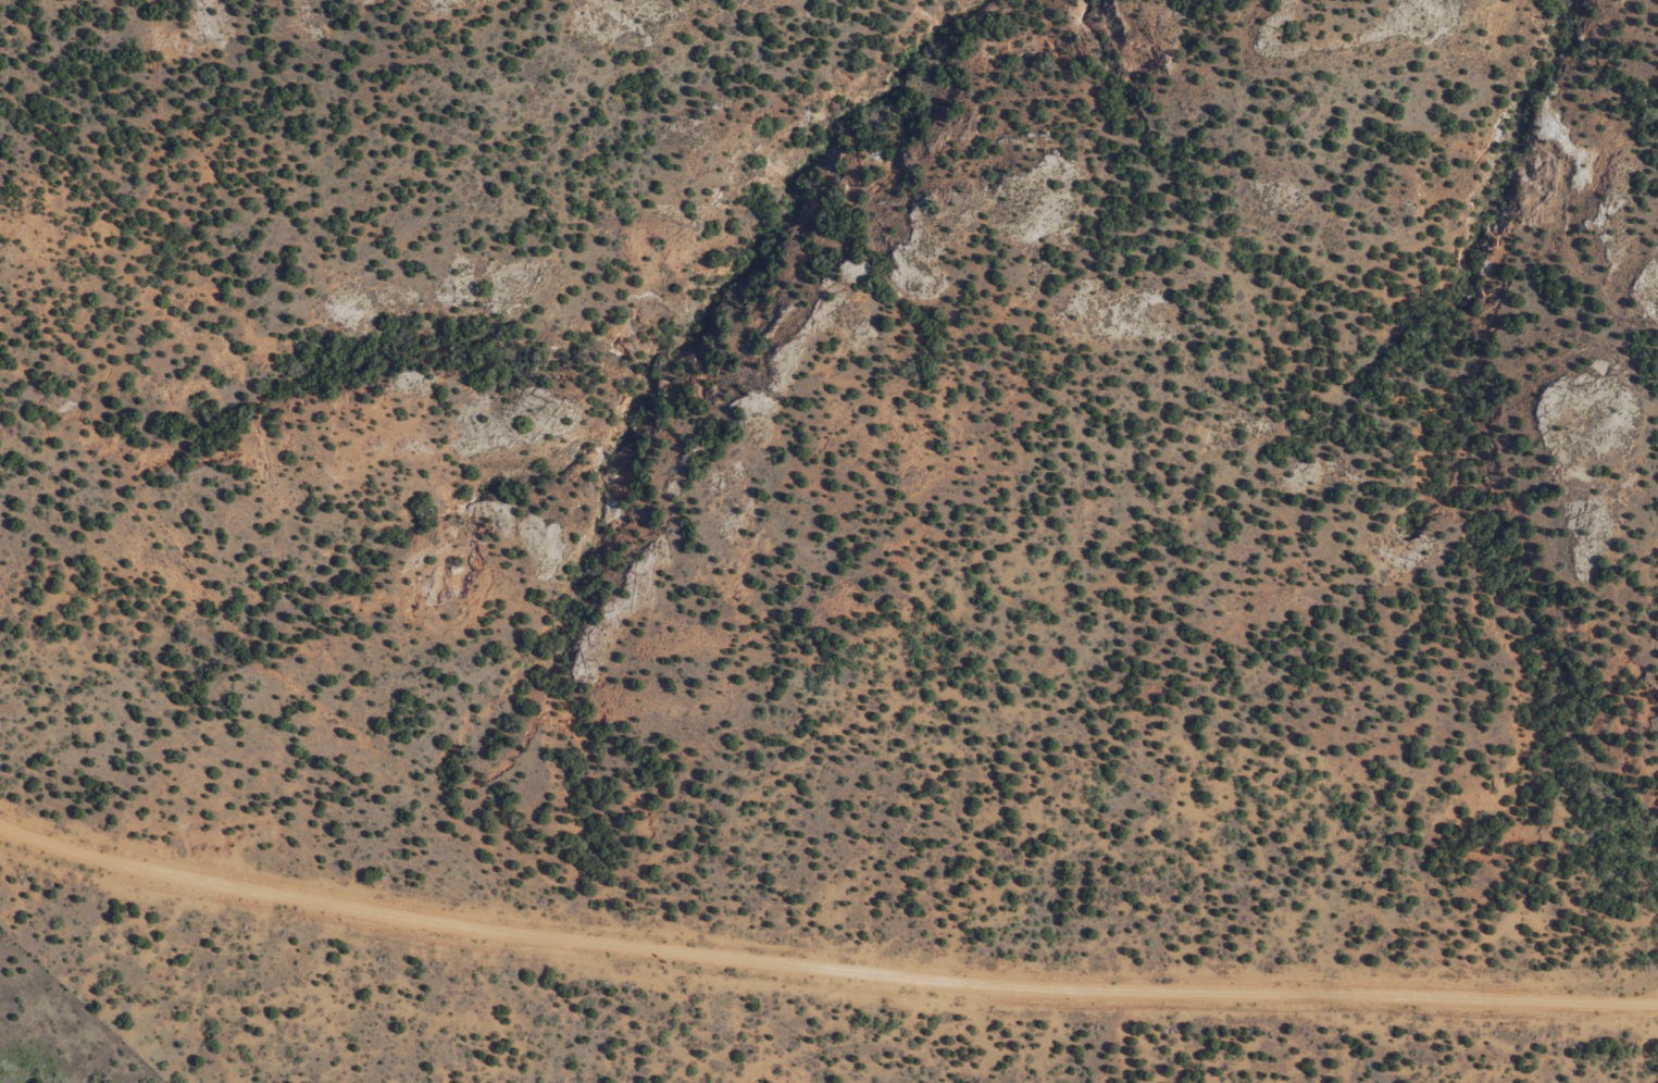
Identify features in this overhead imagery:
road: (816, 982)

